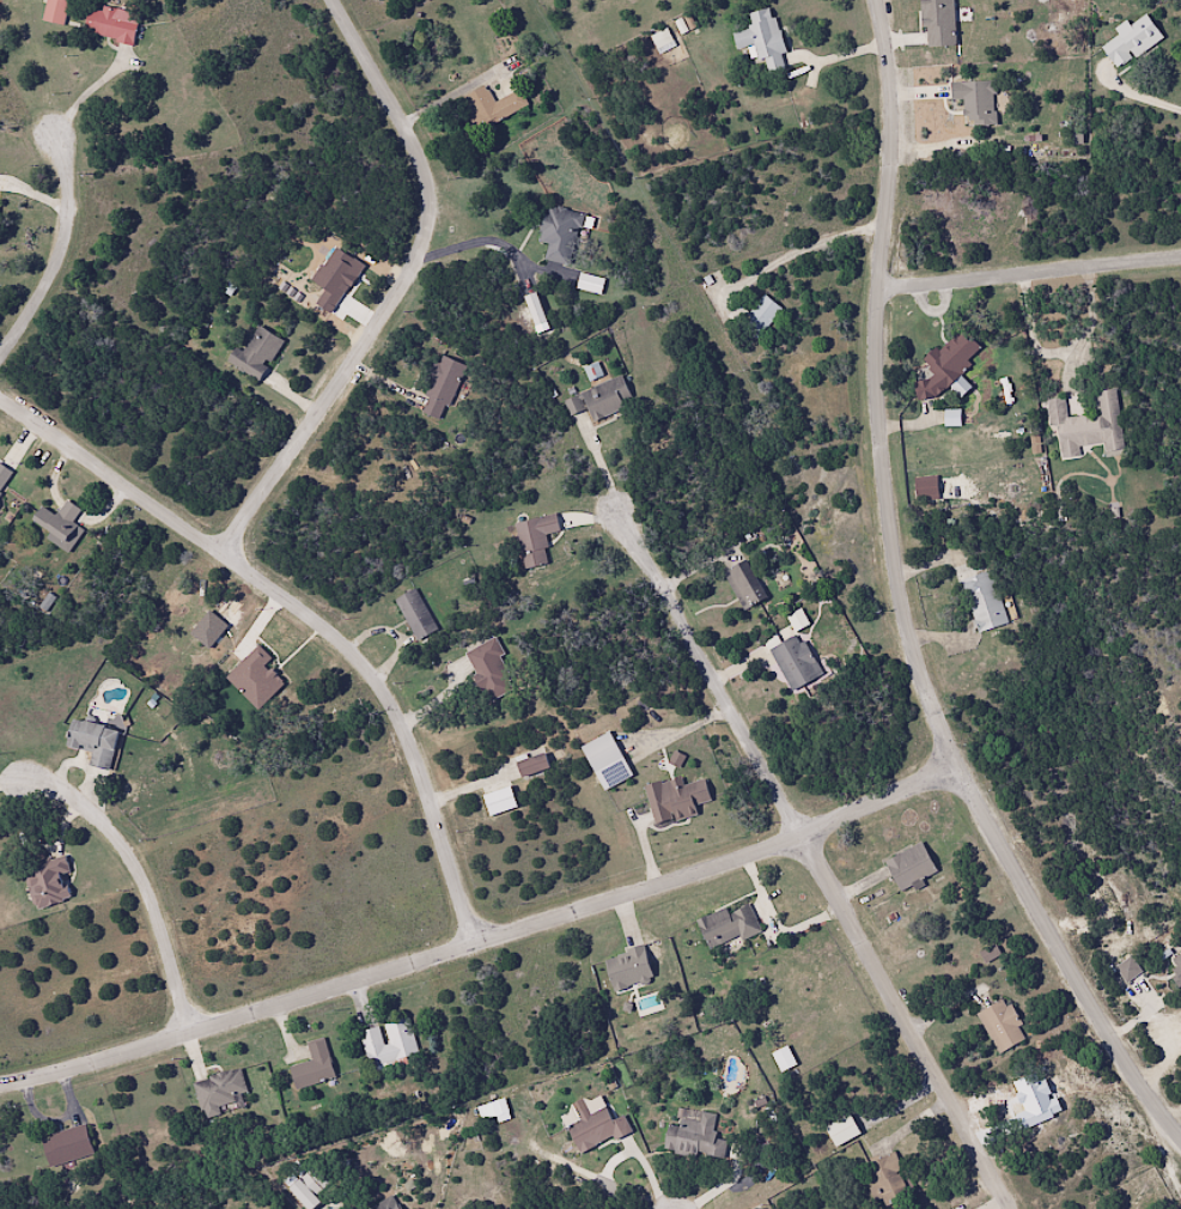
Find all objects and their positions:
building: (54, 11)
building: (937, 23)
building: (109, 24)
building: (761, 38)
building: (1130, 40)
building: (975, 101)
building: (491, 105)
building: (559, 233)
road: (63, 243)
road: (1023, 268)
road: (402, 285)
building: (534, 309)
building: (759, 316)
building: (255, 353)
building: (945, 364)
building: (440, 388)
building: (598, 400)
building: (1086, 427)
building: (4, 476)
building: (925, 488)
building: (0, 505)
building: (57, 524)
building: (534, 539)
building: (743, 584)
building: (982, 601)
road: (895, 603)
road: (315, 609)
building: (414, 614)
building: (795, 662)
road: (711, 666)
building: (489, 670)
building: (93, 742)
building: (599, 752)
building: (531, 765)
building: (671, 800)
road: (153, 863)
building: (908, 867)
building: (47, 882)
building: (726, 927)
road: (485, 940)
building: (627, 968)
road: (902, 1025)
building: (1000, 1025)
building: (388, 1044)
building: (783, 1058)
building: (312, 1065)
building: (219, 1093)
building: (595, 1129)
building: (841, 1130)
building: (693, 1138)
building: (66, 1146)
building: (885, 1183)
building: (308, 1187)
building: (385, 1204)

